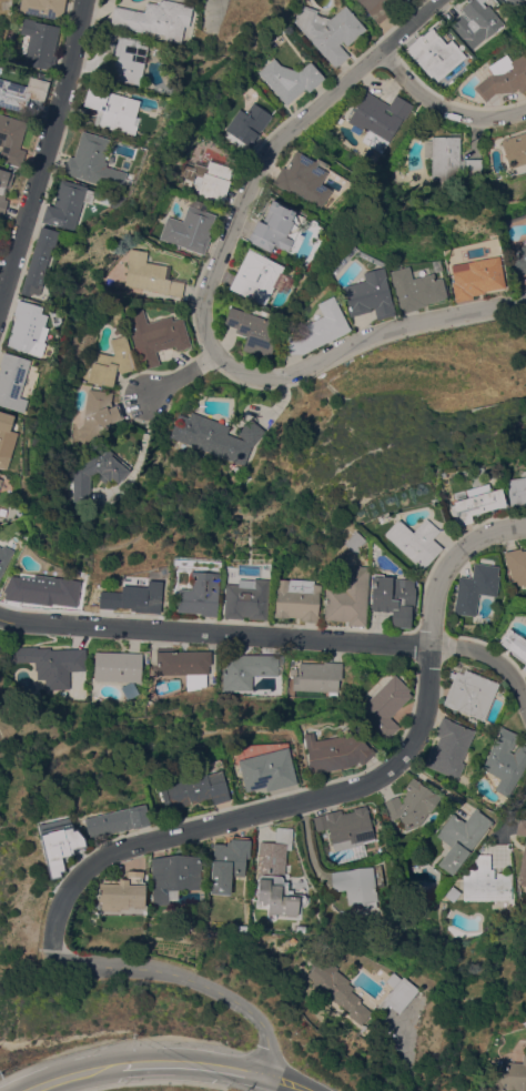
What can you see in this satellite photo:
building: (395, 1)
building: (399, 1)
building: (514, 1)
building: (43, 7)
building: (375, 9)
building: (154, 18)
building: (476, 21)
building: (330, 30)
building: (40, 43)
building: (108, 44)
building: (525, 44)
building: (435, 54)
building: (128, 60)
building: (504, 75)
building: (290, 79)
building: (21, 92)
road: (444, 105)
building: (112, 109)
building: (378, 119)
building: (249, 123)
building: (11, 139)
road: (269, 144)
building: (515, 149)
road: (43, 152)
building: (449, 159)
building: (98, 160)
building: (206, 179)
building: (303, 179)
building: (3, 188)
building: (67, 203)
building: (189, 230)
building: (273, 231)
building: (525, 234)
building: (520, 257)
building: (39, 260)
building: (151, 274)
building: (476, 276)
building: (259, 277)
building: (415, 289)
building: (370, 294)
building: (28, 327)
building: (318, 329)
building: (252, 330)
building: (155, 336)
road: (363, 339)
building: (111, 362)
road: (179, 375)
building: (12, 380)
building: (98, 413)
building: (216, 435)
building: (6, 438)
building: (82, 479)
building: (0, 481)
building: (517, 491)
building: (476, 504)
building: (415, 541)
building: (4, 556)
building: (517, 564)
building: (476, 587)
building: (44, 588)
building: (201, 594)
building: (348, 596)
building: (133, 597)
building: (394, 597)
building: (247, 598)
building: (297, 598)
road: (275, 636)
building: (515, 645)
building: (52, 663)
building: (117, 665)
building: (188, 666)
building: (247, 668)
building: (318, 676)
building: (471, 691)
building: (385, 706)
building: (449, 747)
building: (335, 750)
building: (506, 760)
building: (264, 765)
building: (195, 789)
road: (337, 794)
building: (412, 804)
road: (512, 816)
building: (118, 820)
building: (346, 827)
building: (520, 827)
building: (462, 837)
building: (60, 843)
building: (229, 862)
building: (523, 867)
building: (174, 875)
building: (277, 877)
building: (486, 881)
building: (360, 883)
building: (124, 892)
building: (242, 928)
road: (192, 980)
building: (337, 988)
building: (397, 992)
road: (404, 1055)
road: (196, 1063)
road: (73, 1073)
building: (510, 1075)
road: (285, 1084)

